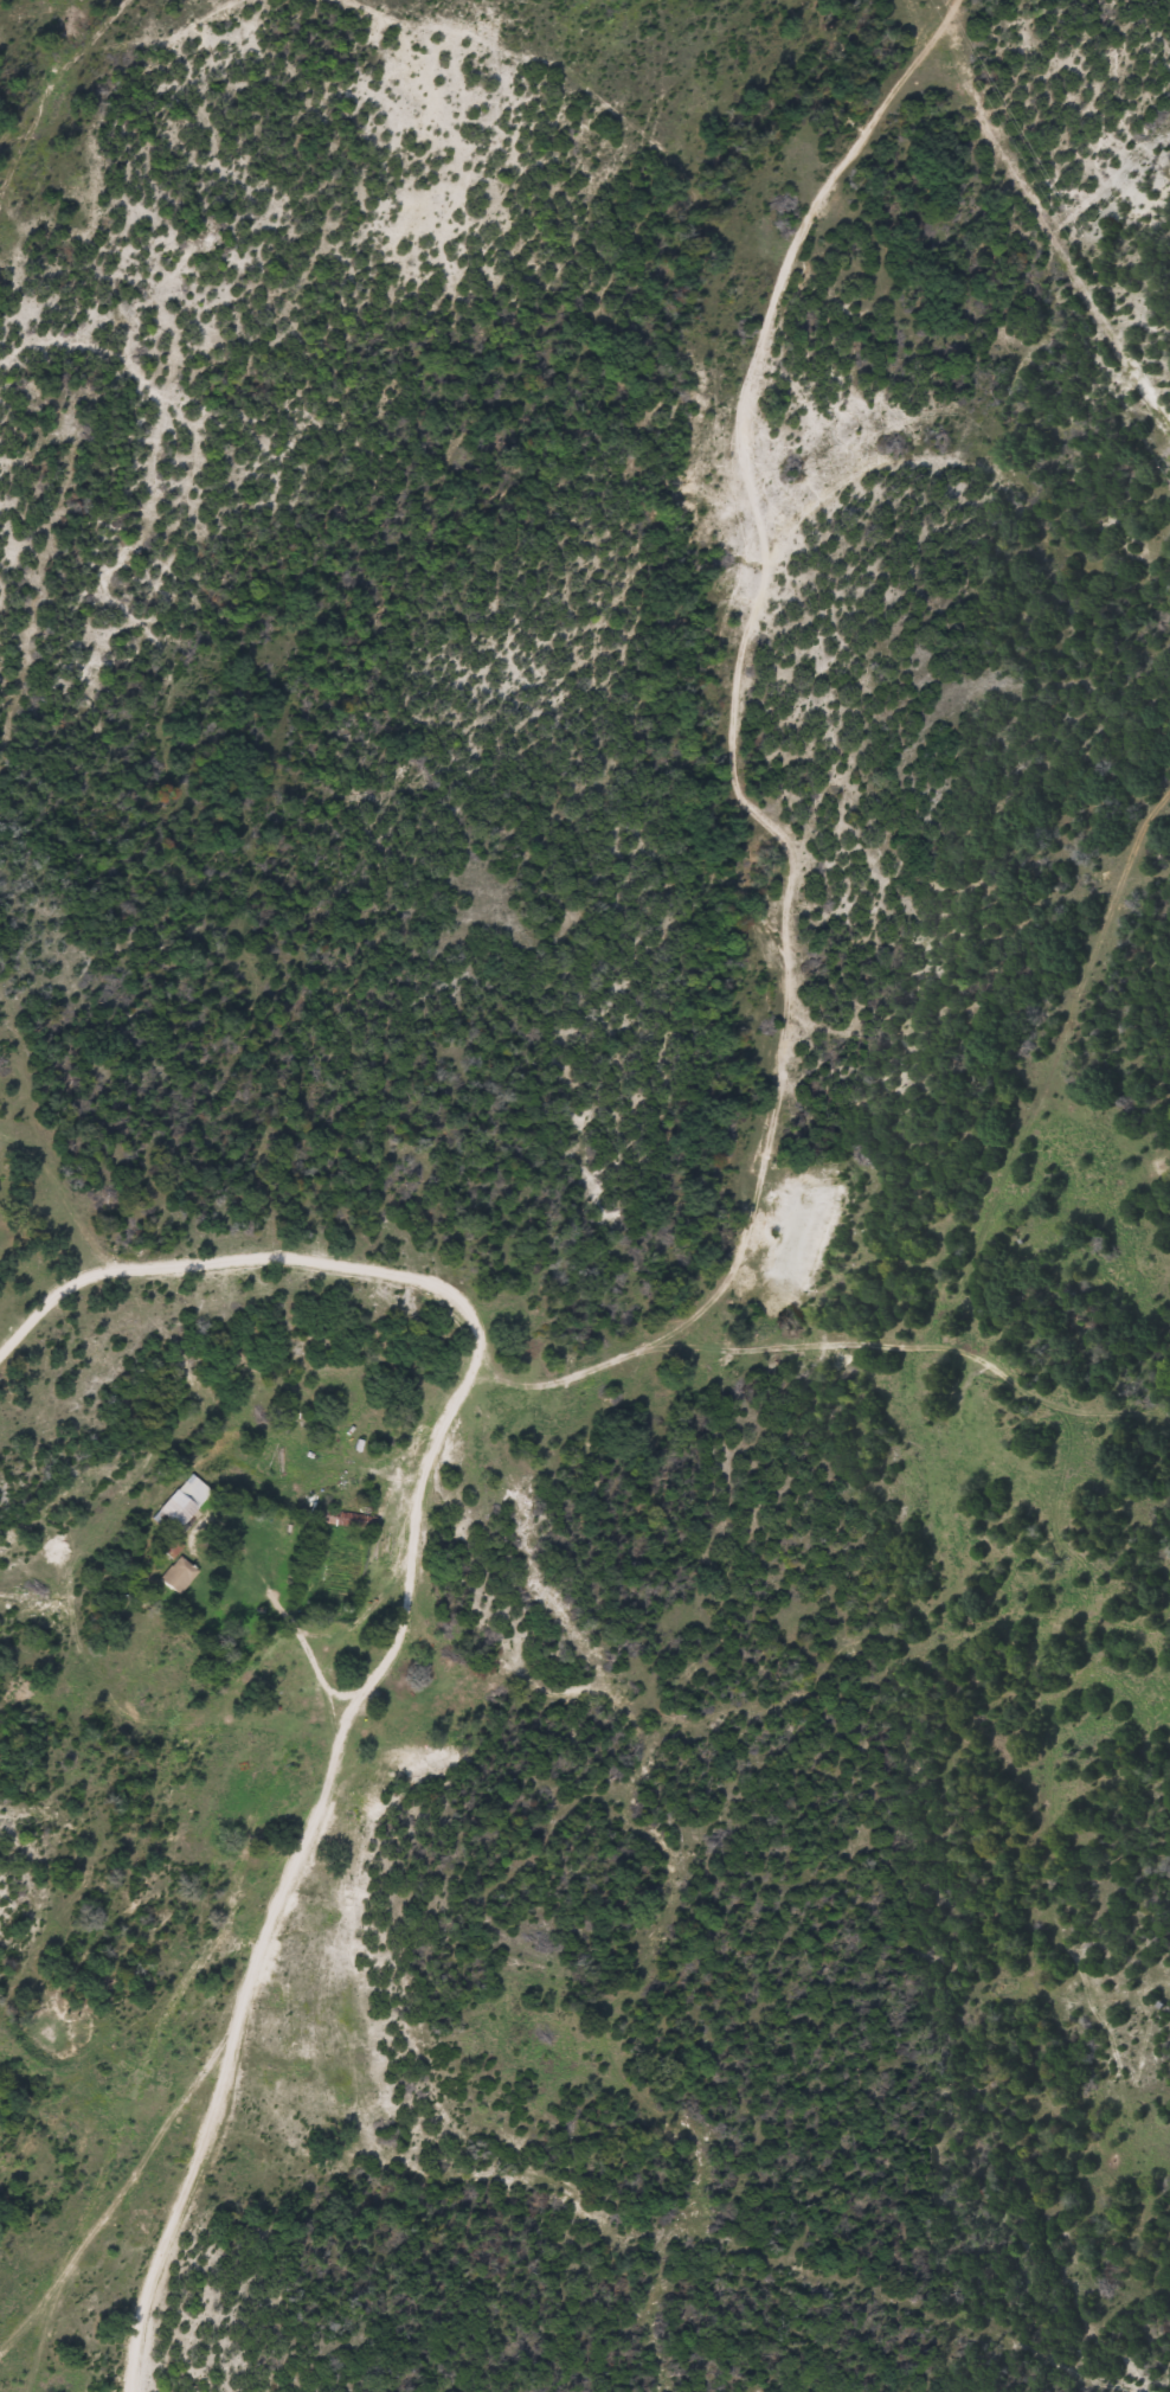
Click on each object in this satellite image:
road: (780, 784)
road: (272, 1256)
building: (184, 1499)
building: (356, 1519)
building: (178, 1572)
road: (288, 1888)

